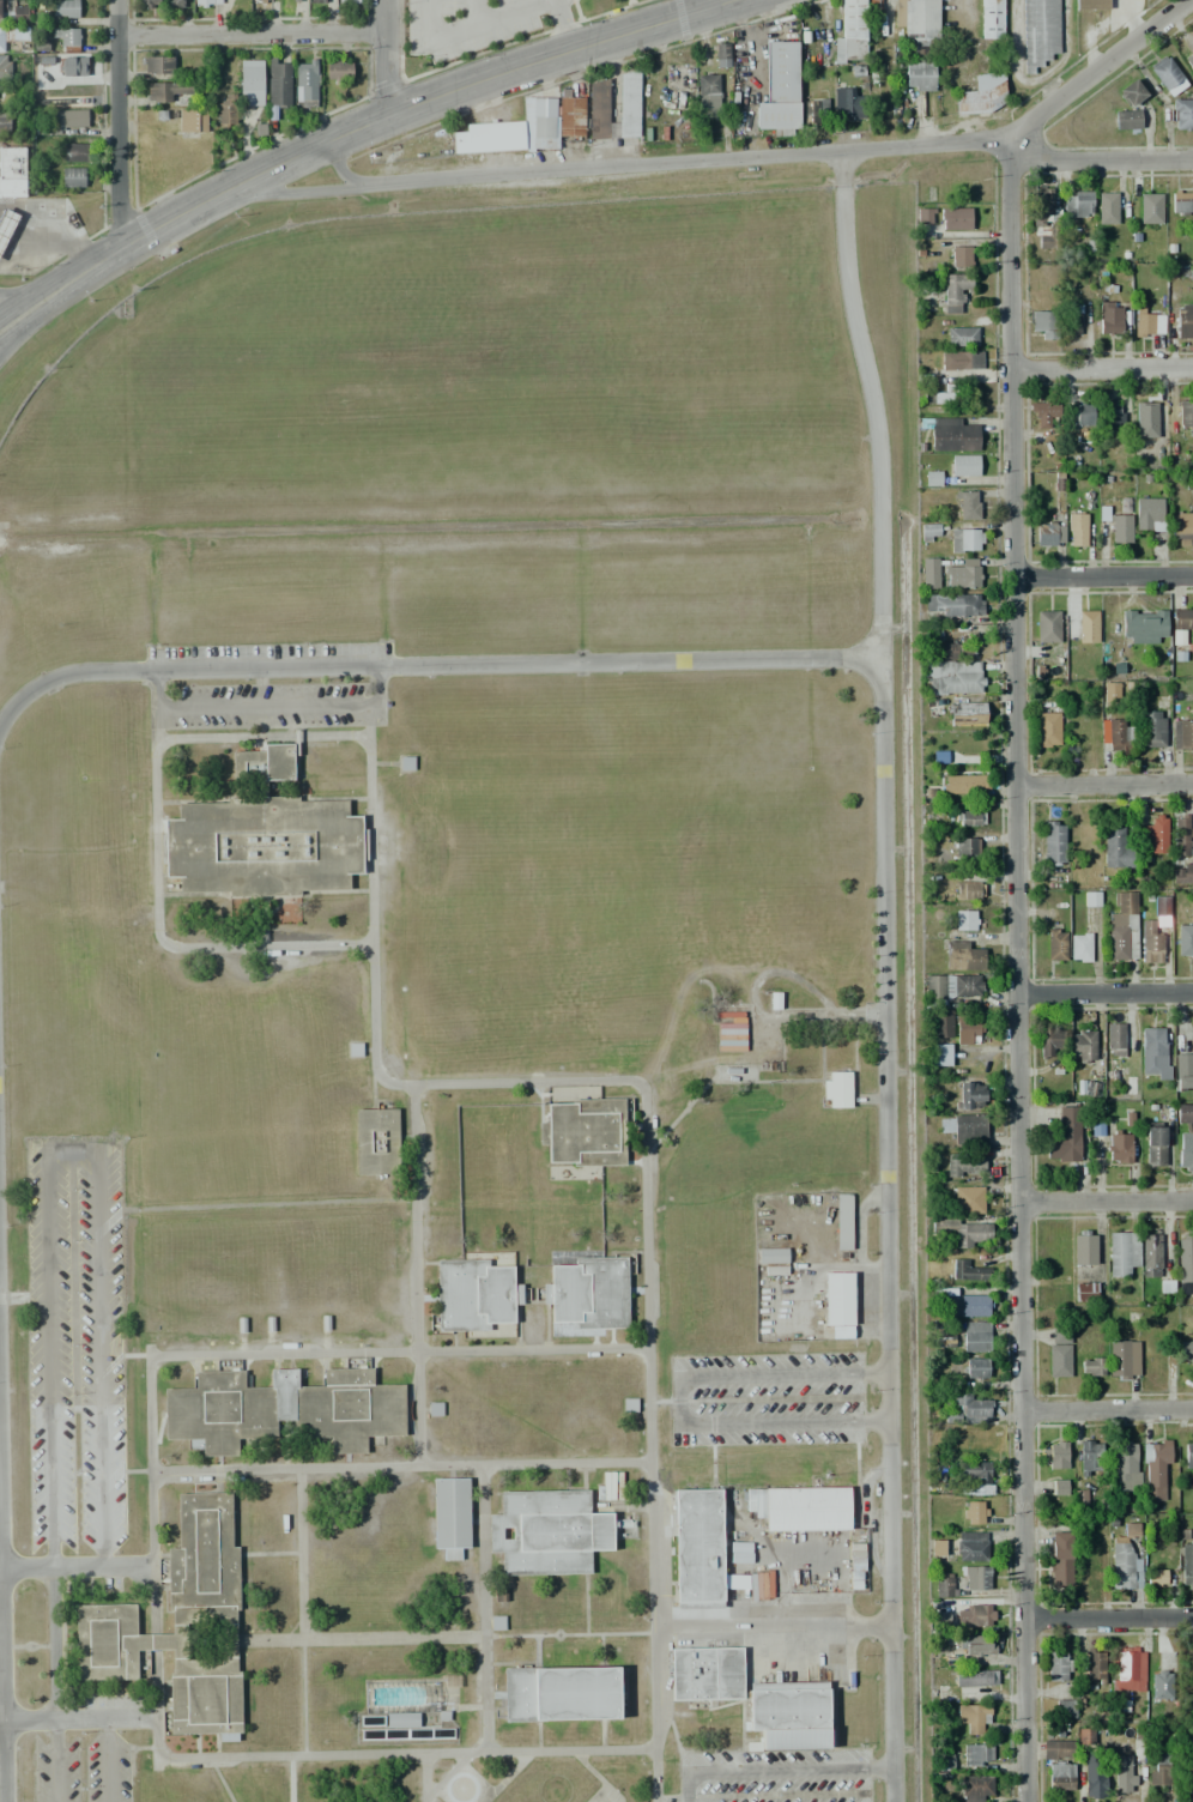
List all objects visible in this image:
building: (292, 0)
building: (264, 1)
building: (317, 1)
building: (347, 1)
building: (207, 2)
building: (149, 4)
building: (174, 4)
road: (700, 5)
building: (871, 5)
building: (1090, 5)
building: (65, 8)
building: (13, 11)
road: (476, 11)
road: (486, 18)
road: (429, 19)
building: (992, 19)
building: (920, 22)
road: (564, 25)
building: (852, 31)
building: (1038, 32)
road: (254, 34)
building: (5, 36)
building: (805, 37)
building: (68, 41)
building: (720, 55)
road: (387, 56)
building: (1189, 61)
building: (158, 66)
road: (526, 66)
building: (5, 67)
building: (73, 67)
building: (338, 68)
building: (920, 74)
building: (1167, 75)
building: (252, 83)
building: (278, 83)
building: (305, 83)
building: (165, 90)
building: (780, 90)
building: (1131, 91)
building: (981, 93)
building: (707, 96)
building: (629, 103)
building: (848, 104)
building: (599, 109)
building: (813, 110)
building: (225, 111)
building: (1182, 114)
building: (570, 115)
building: (192, 120)
building: (1126, 120)
building: (66, 121)
building: (4, 122)
road: (119, 123)
building: (544, 133)
building: (489, 137)
road: (1098, 150)
building: (75, 152)
road: (773, 163)
building: (12, 171)
building: (73, 177)
road: (281, 196)
building: (1181, 202)
building: (1078, 204)
building: (1107, 207)
building: (1042, 208)
building: (1150, 208)
building: (923, 216)
building: (955, 218)
building: (6, 224)
road: (156, 226)
building: (1044, 241)
building: (961, 256)
building: (955, 291)
road: (22, 296)
building: (1109, 318)
building: (1072, 319)
building: (1183, 321)
building: (1043, 323)
building: (1149, 326)
road: (10, 329)
building: (961, 337)
building: (969, 359)
road: (1101, 369)
building: (938, 398)
road: (872, 407)
building: (1110, 411)
building: (1043, 412)
building: (1079, 413)
building: (1185, 415)
building: (1144, 416)
building: (951, 435)
building: (963, 465)
building: (932, 478)
building: (1124, 504)
building: (967, 506)
building: (1147, 514)
building: (1076, 528)
building: (1120, 528)
building: (1182, 530)
building: (928, 532)
building: (1049, 533)
building: (967, 540)
building: (928, 573)
building: (962, 574)
road: (1103, 576)
building: (952, 605)
building: (1181, 624)
building: (1047, 627)
building: (1086, 627)
building: (1143, 628)
building: (955, 651)
building: (956, 677)
building: (1110, 691)
road: (260, 709)
building: (965, 714)
building: (1150, 728)
building: (1047, 730)
building: (1182, 733)
building: (1115, 734)
building: (953, 757)
building: (265, 763)
road: (880, 781)
building: (963, 784)
road: (1104, 787)
building: (968, 818)
building: (1153, 834)
building: (1182, 836)
building: (1050, 842)
building: (264, 846)
building: (1115, 848)
building: (968, 851)
building: (1183, 873)
building: (969, 890)
building: (1092, 899)
building: (1191, 908)
road: (153, 909)
building: (1161, 911)
building: (965, 920)
building: (1122, 929)
building: (1183, 941)
building: (1150, 942)
building: (1055, 944)
building: (1078, 948)
building: (962, 956)
road: (1017, 975)
building: (950, 987)
road: (1106, 992)
building: (940, 1023)
building: (967, 1030)
building: (731, 1034)
building: (1115, 1039)
building: (1049, 1044)
building: (1082, 1046)
building: (939, 1054)
building: (1153, 1054)
building: (1183, 1072)
building: (1089, 1088)
building: (837, 1089)
building: (970, 1094)
road: (646, 1102)
building: (1183, 1113)
building: (963, 1127)
building: (585, 1132)
building: (1064, 1136)
building: (376, 1141)
building: (1155, 1145)
road: (69, 1148)
building: (1119, 1148)
building: (1185, 1151)
building: (964, 1162)
road: (1109, 1195)
building: (967, 1201)
building: (843, 1222)
building: (964, 1233)
building: (1084, 1247)
building: (1122, 1253)
building: (771, 1256)
building: (1150, 1256)
building: (1183, 1268)
building: (968, 1270)
road: (413, 1277)
building: (1084, 1292)
building: (588, 1293)
building: (473, 1294)
building: (837, 1304)
building: (962, 1305)
building: (975, 1336)
building: (940, 1340)
building: (1058, 1350)
building: (1186, 1351)
road: (260, 1354)
building: (1122, 1359)
building: (1091, 1367)
building: (975, 1368)
road: (679, 1402)
building: (281, 1409)
building: (968, 1409)
road: (1108, 1411)
building: (1188, 1455)
building: (1054, 1456)
building: (1089, 1458)
building: (1124, 1465)
road: (400, 1469)
building: (1156, 1470)
building: (975, 1476)
building: (1059, 1487)
building: (807, 1508)
building: (974, 1512)
building: (452, 1516)
building: (547, 1532)
building: (970, 1546)
building: (697, 1549)
building: (739, 1553)
road: (301, 1555)
building: (1061, 1559)
building: (1125, 1559)
road: (75, 1565)
building: (1186, 1566)
building: (1156, 1577)
building: (975, 1578)
building: (944, 1584)
road: (483, 1609)
building: (974, 1615)
road: (1108, 1619)
building: (939, 1620)
building: (181, 1625)
road: (773, 1627)
road: (1, 1631)
road: (365, 1638)
road: (155, 1641)
road: (53, 1643)
building: (968, 1650)
building: (1094, 1665)
building: (1058, 1667)
building: (1130, 1668)
building: (705, 1674)
building: (974, 1677)
building: (1162, 1686)
building: (561, 1693)
building: (1064, 1709)
building: (791, 1713)
building: (973, 1717)
road: (77, 1719)
building: (402, 1725)
building: (1084, 1736)
building: (1058, 1750)
road: (355, 1754)
building: (976, 1754)
road: (109, 1760)
road: (53, 1761)
building: (939, 1761)
building: (1188, 1765)
road: (776, 1771)
building: (1159, 1771)
building: (1092, 1774)
building: (1060, 1777)
road: (425, 1778)
building: (1124, 1778)
building: (974, 1786)

